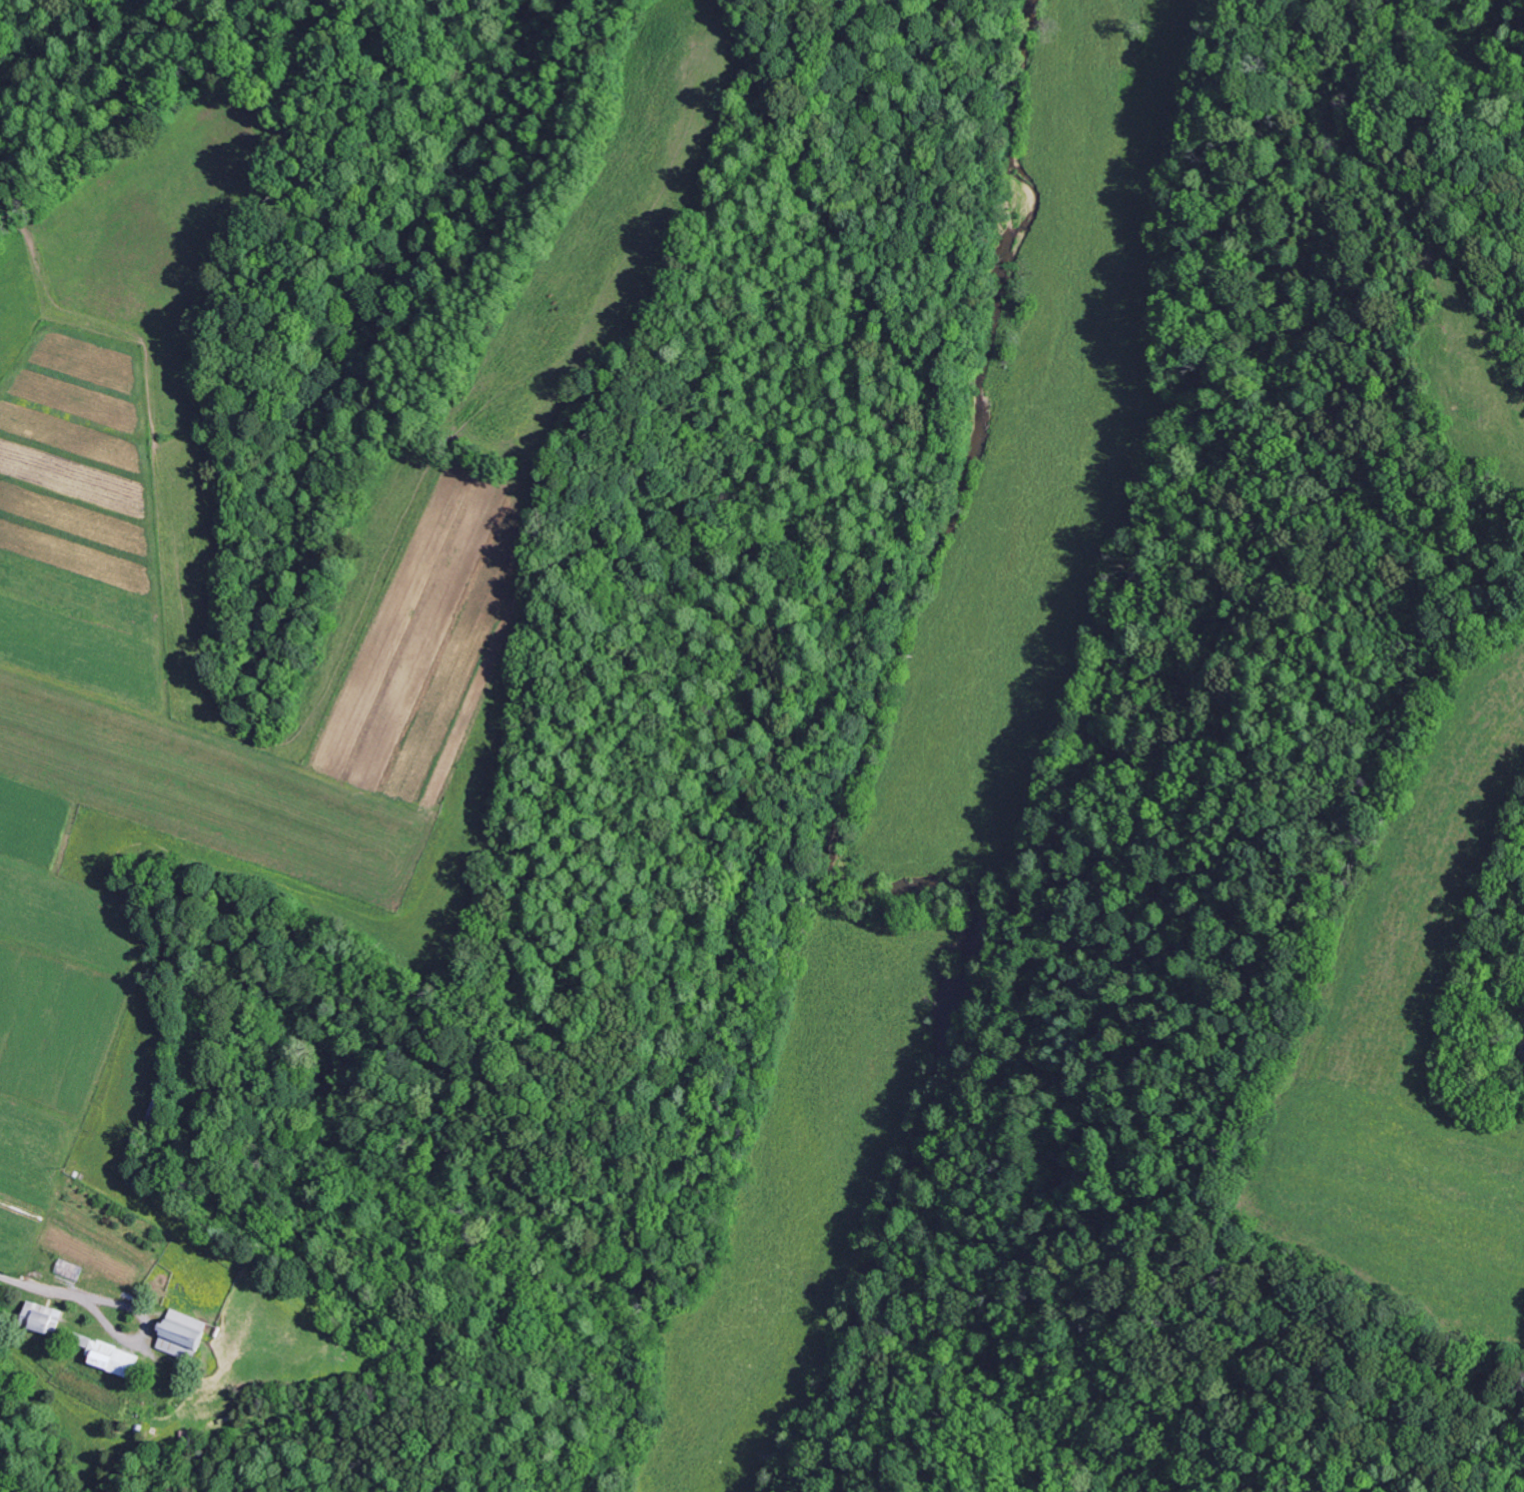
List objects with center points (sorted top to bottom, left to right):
building: (36, 1318)
building: (175, 1334)
building: (101, 1355)

